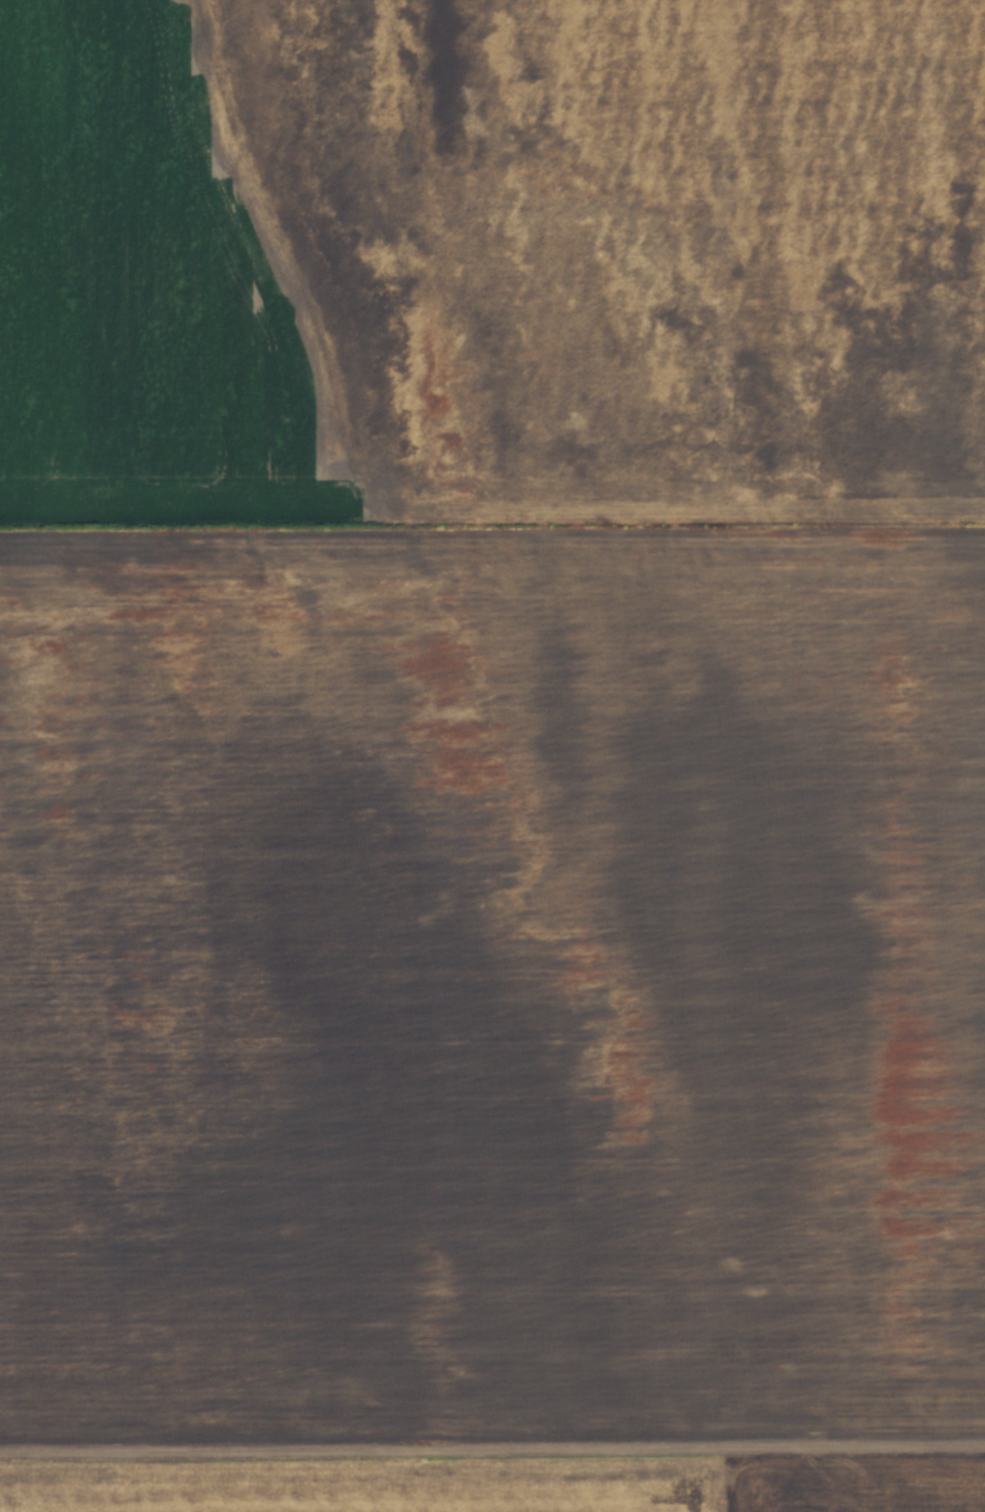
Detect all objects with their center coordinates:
road: (492, 1449)

